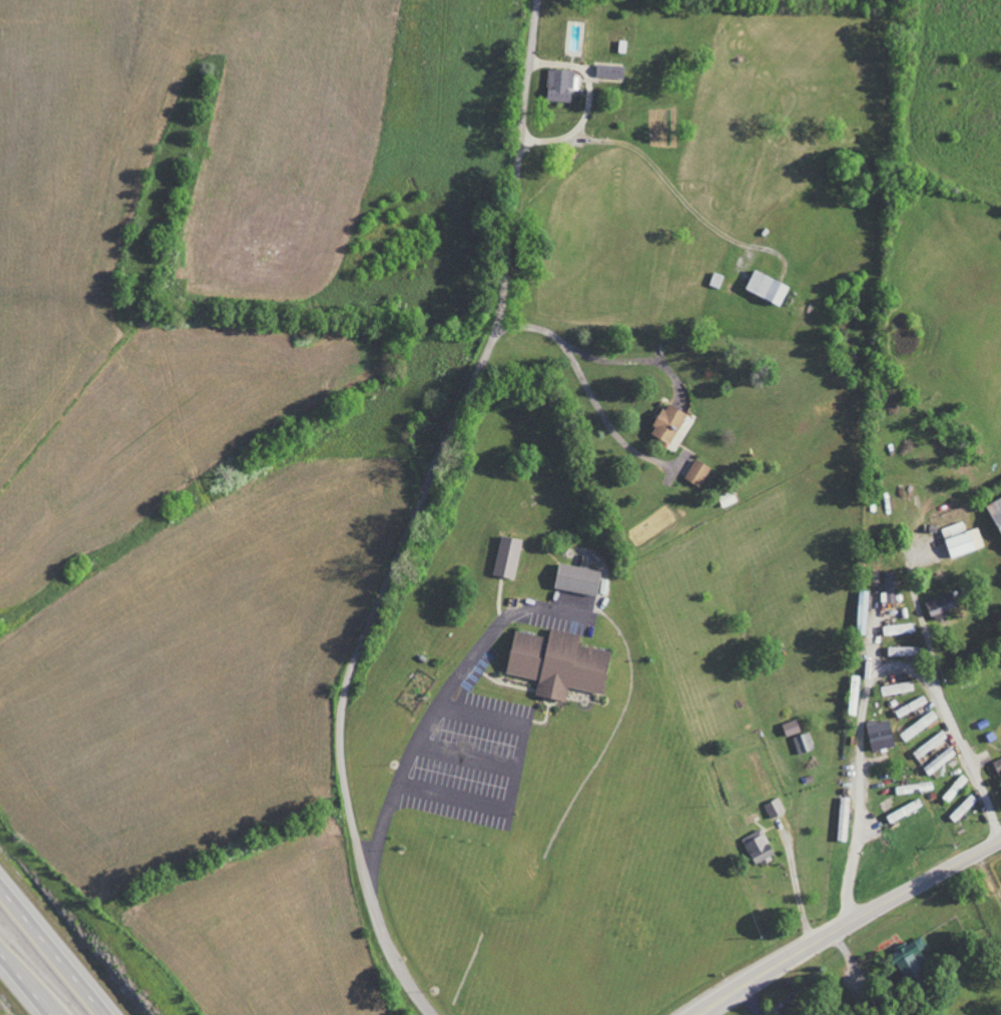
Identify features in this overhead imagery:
building: (559, 85)
road: (666, 178)
building: (765, 287)
road: (590, 355)
building: (670, 423)
building: (697, 473)
road: (413, 513)
building: (995, 513)
building: (961, 539)
building: (507, 557)
building: (576, 579)
building: (890, 587)
building: (940, 606)
building: (862, 612)
building: (899, 629)
road: (876, 639)
road: (930, 646)
building: (899, 651)
building: (556, 663)
road: (870, 683)
building: (897, 688)
road: (442, 699)
building: (910, 706)
building: (918, 726)
building: (791, 728)
building: (880, 735)
building: (803, 743)
building: (929, 745)
road: (465, 757)
building: (939, 761)
building: (997, 767)
road: (515, 778)
building: (915, 787)
building: (955, 788)
building: (773, 808)
building: (963, 808)
building: (904, 810)
building: (843, 819)
building: (757, 847)
road: (846, 922)
road: (55, 948)
building: (909, 960)
road: (27, 982)
building: (791, 1014)

